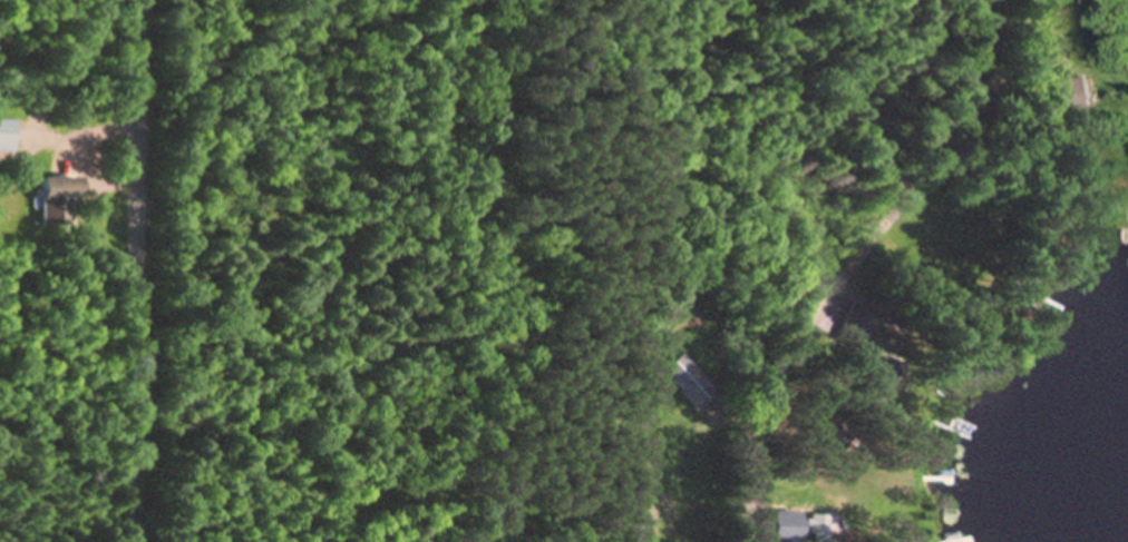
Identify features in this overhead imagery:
building: (1063, 98)
building: (10, 134)
building: (70, 188)
road: (855, 267)
road: (145, 270)
building: (852, 325)
building: (869, 386)
building: (820, 530)

